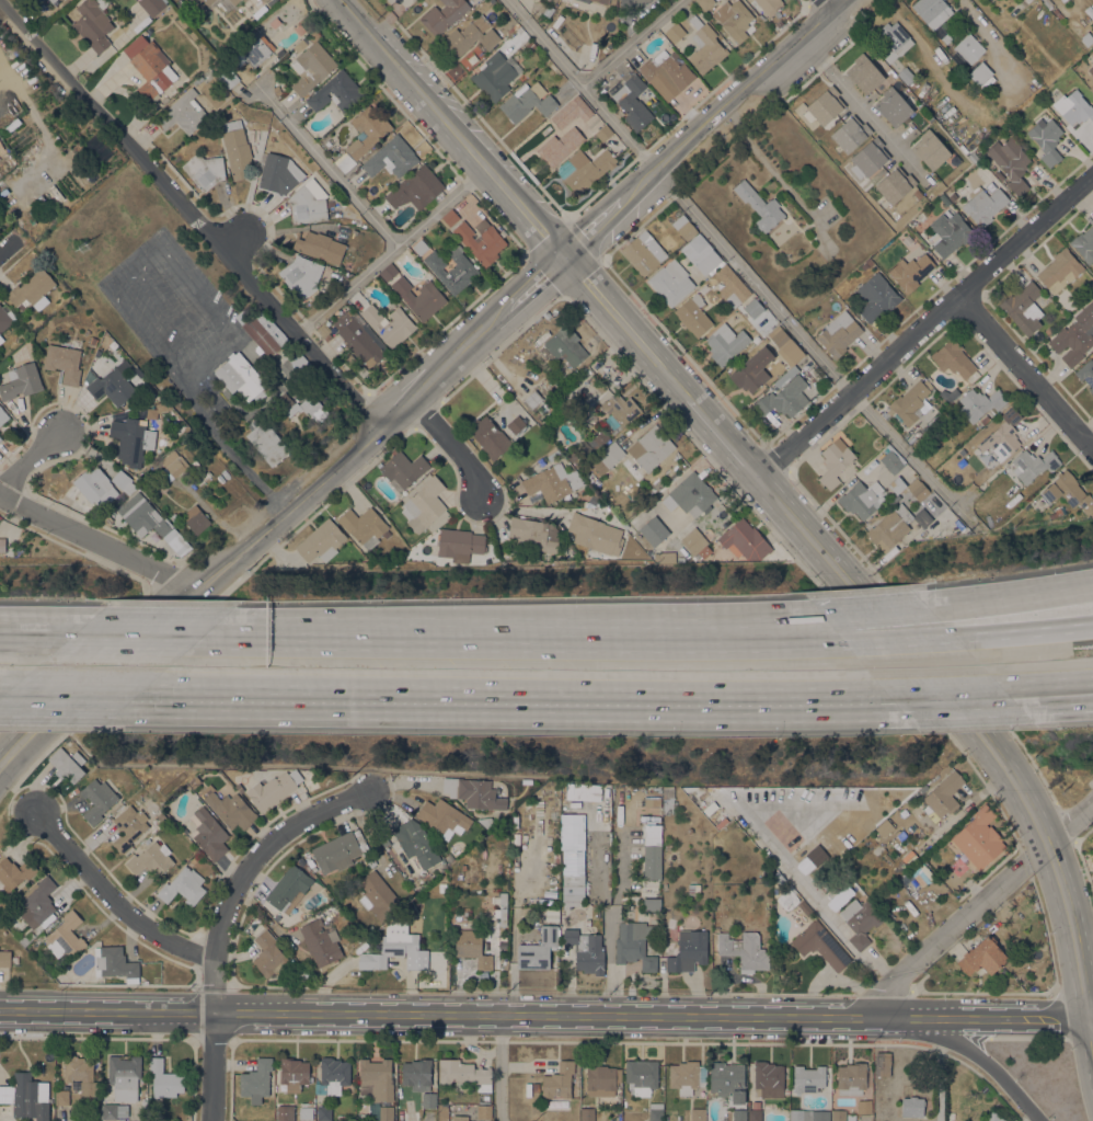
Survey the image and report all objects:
building: (244, 0)
building: (261, 0)
building: (266, 0)
building: (48, 1)
building: (53, 1)
building: (553, 1)
building: (585, 1)
building: (603, 1)
building: (232, 2)
building: (630, 2)
building: (704, 3)
building: (202, 4)
road: (825, 4)
building: (151, 5)
building: (769, 5)
building: (548, 11)
building: (932, 11)
building: (444, 15)
building: (734, 19)
building: (274, 22)
building: (93, 23)
building: (513, 27)
building: (299, 28)
building: (675, 32)
building: (553, 34)
building: (471, 35)
building: (1086, 37)
building: (946, 38)
building: (894, 41)
road: (628, 42)
building: (530, 46)
building: (705, 46)
road: (816, 48)
building: (969, 48)
building: (255, 52)
building: (1088, 62)
building: (310, 64)
building: (149, 67)
building: (667, 70)
building: (979, 72)
building: (864, 73)
building: (496, 75)
building: (906, 75)
building: (228, 77)
building: (197, 80)
road: (580, 84)
building: (1091, 87)
building: (337, 91)
road: (733, 96)
building: (527, 101)
building: (632, 102)
building: (826, 104)
building: (893, 106)
building: (1073, 106)
building: (183, 113)
road: (873, 117)
road: (456, 128)
building: (367, 130)
building: (603, 133)
building: (851, 134)
building: (1046, 139)
building: (557, 141)
road: (753, 148)
building: (237, 149)
building: (930, 149)
building: (870, 156)
building: (391, 157)
building: (976, 159)
road: (326, 161)
building: (1010, 162)
building: (585, 169)
building: (205, 170)
building: (276, 174)
building: (896, 184)
building: (417, 188)
building: (953, 197)
building: (944, 198)
building: (900, 202)
building: (983, 204)
building: (306, 206)
building: (760, 206)
road: (193, 215)
building: (449, 218)
road: (598, 227)
building: (684, 227)
building: (950, 232)
building: (481, 240)
building: (1084, 243)
building: (319, 245)
power tower: (84, 247)
road: (391, 247)
building: (419, 247)
road: (8, 248)
building: (643, 252)
building: (701, 253)
building: (867, 263)
building: (451, 268)
building: (1059, 270)
building: (910, 271)
building: (389, 272)
road: (184, 274)
building: (301, 275)
building: (670, 282)
building: (732, 286)
building: (32, 290)
road: (531, 293)
building: (876, 296)
building: (418, 297)
building: (753, 307)
building: (1023, 308)
road: (169, 312)
building: (693, 313)
building: (242, 317)
building: (3, 319)
road: (133, 323)
building: (389, 323)
road: (925, 328)
building: (323, 329)
building: (1048, 331)
building: (838, 334)
building: (1074, 335)
building: (756, 338)
building: (1, 339)
building: (358, 339)
building: (93, 340)
building: (273, 341)
building: (725, 343)
building: (785, 345)
building: (564, 346)
road: (817, 350)
road: (204, 352)
building: (953, 358)
building: (64, 362)
building: (108, 366)
building: (752, 370)
road: (1025, 371)
building: (1085, 373)
building: (786, 376)
building: (241, 377)
building: (21, 381)
building: (114, 384)
building: (784, 398)
building: (532, 399)
building: (911, 401)
building: (979, 403)
building: (300, 405)
building: (620, 408)
building: (3, 415)
building: (985, 419)
building: (516, 424)
building: (594, 432)
building: (1002, 434)
building: (0, 437)
building: (488, 437)
building: (135, 438)
building: (266, 442)
road: (1092, 444)
road: (227, 447)
road: (453, 447)
building: (651, 447)
building: (552, 453)
building: (572, 456)
building: (608, 457)
road: (30, 460)
road: (346, 461)
building: (835, 461)
building: (891, 461)
building: (1033, 465)
building: (172, 466)
building: (403, 470)
building: (204, 477)
building: (123, 481)
building: (550, 481)
building: (658, 484)
building: (897, 484)
building: (95, 487)
building: (918, 489)
building: (1068, 492)
building: (690, 494)
building: (862, 499)
building: (595, 501)
building: (424, 504)
building: (142, 515)
building: (922, 517)
building: (196, 518)
building: (107, 521)
building: (364, 526)
building: (890, 527)
building: (654, 530)
building: (386, 534)
building: (533, 534)
building: (595, 534)
building: (693, 540)
building: (744, 540)
building: (321, 541)
road: (96, 542)
building: (459, 542)
building: (2, 545)
building: (705, 551)
building: (665, 557)
road: (1010, 596)
road: (877, 608)
road: (874, 610)
road: (196, 616)
road: (694, 625)
road: (1024, 629)
road: (39, 630)
road: (145, 631)
road: (389, 633)
road: (706, 640)
road: (900, 640)
road: (95, 676)
road: (1080, 691)
road: (1038, 696)
road: (1051, 698)
road: (67, 699)
road: (953, 700)
road: (514, 701)
building: (68, 763)
building: (527, 781)
building: (239, 788)
building: (657, 788)
building: (273, 790)
building: (583, 791)
building: (474, 792)
building: (943, 796)
building: (97, 799)
building: (667, 800)
building: (606, 803)
building: (230, 809)
building: (444, 817)
building: (486, 822)
building: (128, 827)
building: (884, 827)
building: (208, 833)
building: (900, 834)
building: (607, 836)
building: (979, 838)
building: (384, 840)
building: (416, 843)
building: (340, 850)
building: (652, 850)
building: (908, 858)
building: (151, 859)
building: (369, 859)
building: (311, 862)
building: (14, 872)
building: (922, 873)
building: (780, 880)
building: (183, 886)
building: (441, 888)
building: (288, 889)
building: (572, 889)
building: (693, 889)
building: (378, 895)
road: (113, 897)
building: (787, 899)
building: (38, 903)
building: (652, 904)
building: (499, 906)
road: (976, 906)
building: (804, 907)
road: (223, 920)
building: (860, 922)
building: (66, 936)
road: (608, 939)
building: (321, 942)
building: (634, 945)
building: (820, 945)
building: (472, 947)
building: (586, 949)
building: (389, 950)
building: (538, 950)
building: (745, 950)
building: (688, 951)
building: (268, 954)
building: (982, 957)
building: (4, 958)
building: (14, 960)
building: (115, 963)
road: (511, 965)
road: (447, 1011)
road: (991, 1011)
road: (1091, 1027)
road: (976, 1052)
building: (882, 1064)
road: (501, 1066)
building: (80, 1073)
building: (416, 1073)
building: (464, 1073)
building: (294, 1074)
building: (333, 1075)
building: (124, 1076)
building: (641, 1076)
building: (684, 1076)
building: (378, 1078)
building: (808, 1078)
building: (853, 1078)
building: (164, 1079)
building: (600, 1079)
building: (768, 1079)
building: (256, 1080)
building: (559, 1080)
building: (727, 1080)
building: (26, 1096)
building: (61, 1097)
building: (428, 1099)
building: (399, 1107)
building: (864, 1107)
building: (912, 1107)
building: (113, 1110)
building: (484, 1111)
building: (655, 1111)
building: (285, 1112)
building: (306, 1112)
building: (324, 1112)
building: (442, 1112)
building: (386, 1113)
power tower: (527, 1113)
building: (697, 1113)
building: (587, 1114)
building: (739, 1114)
building: (753, 1114)
building: (808, 1114)
building: (838, 1114)
building: (851, 1117)
building: (993, 1117)
building: (342, 1118)
building: (460, 1118)

